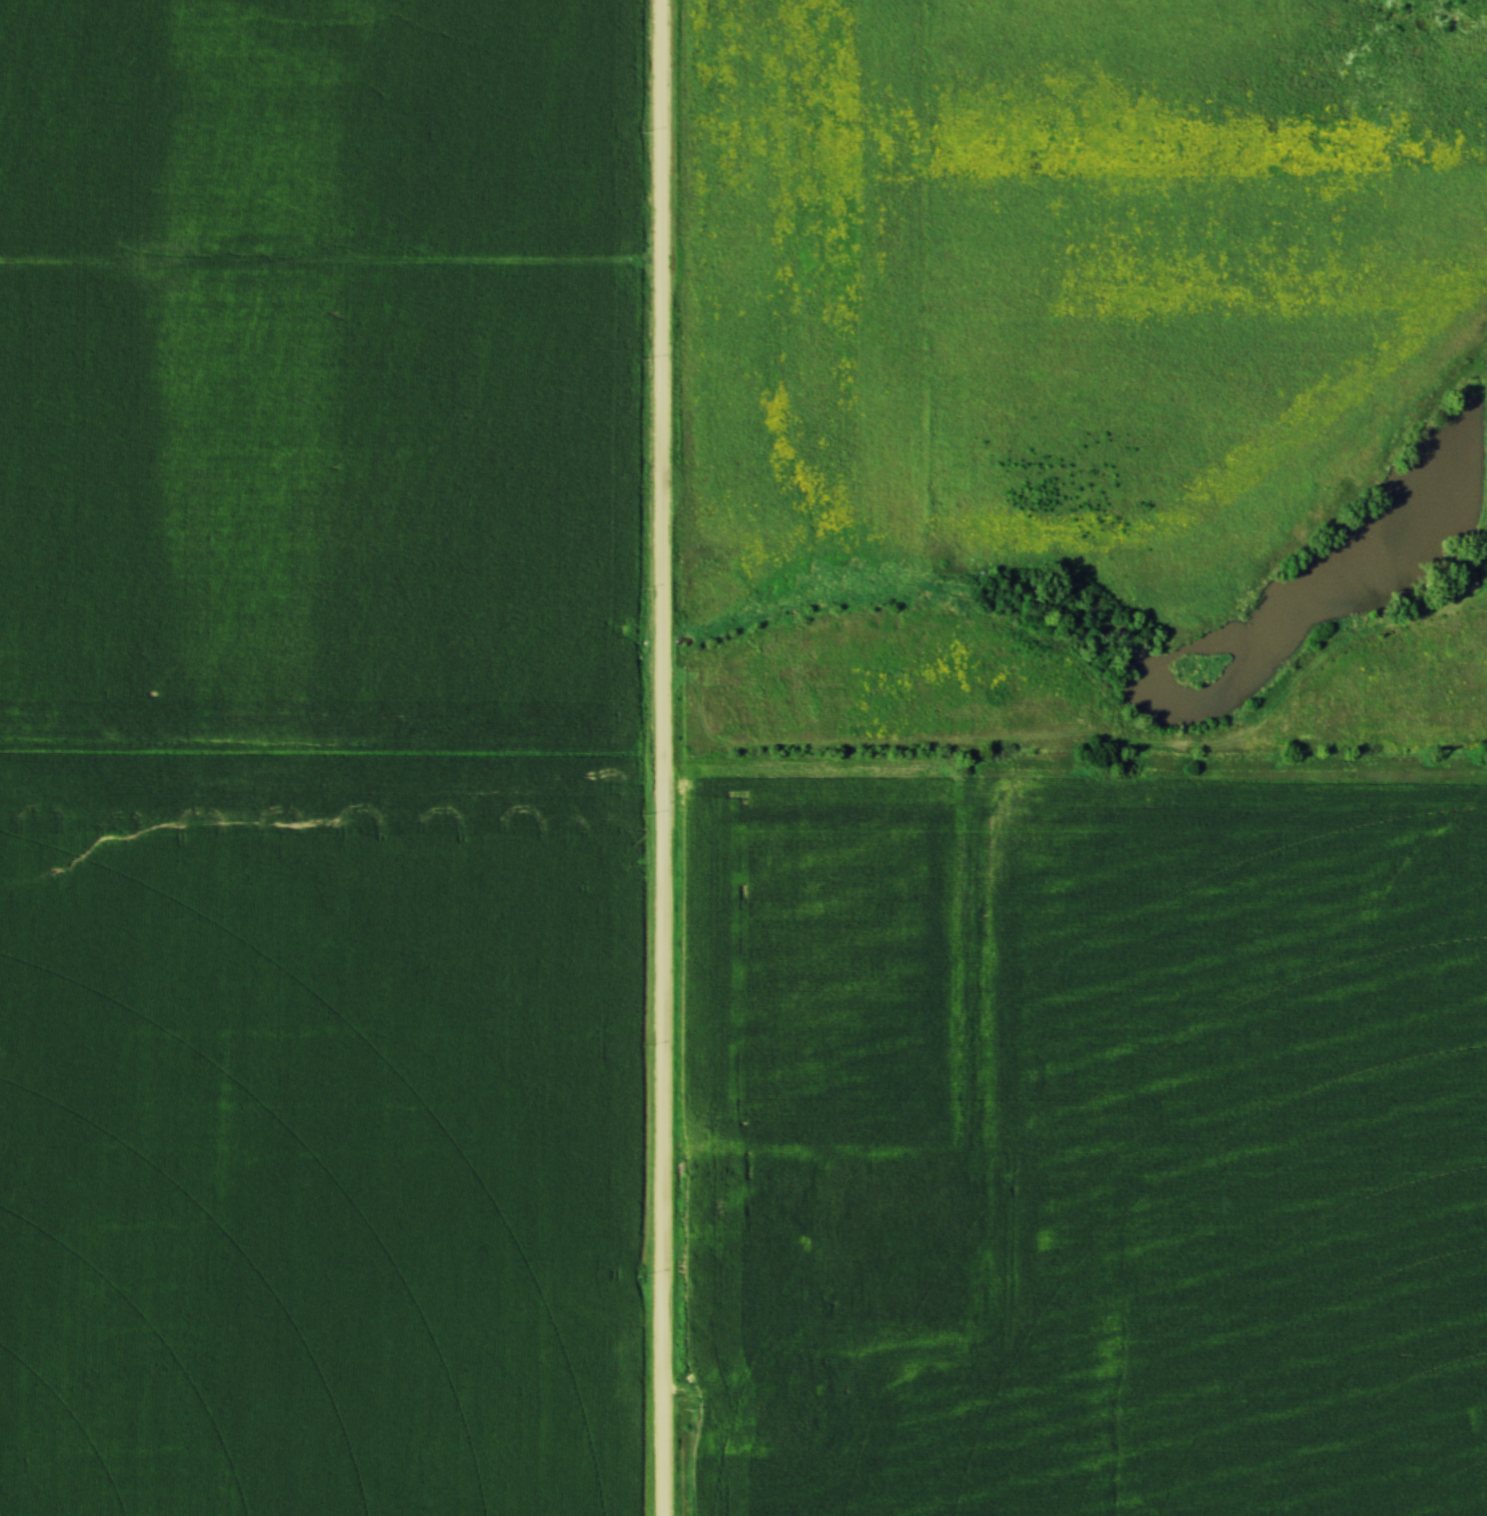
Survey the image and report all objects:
road: (663, 758)
building: (806, 1205)
building: (750, 1208)
building: (837, 1309)
building: (723, 1369)

